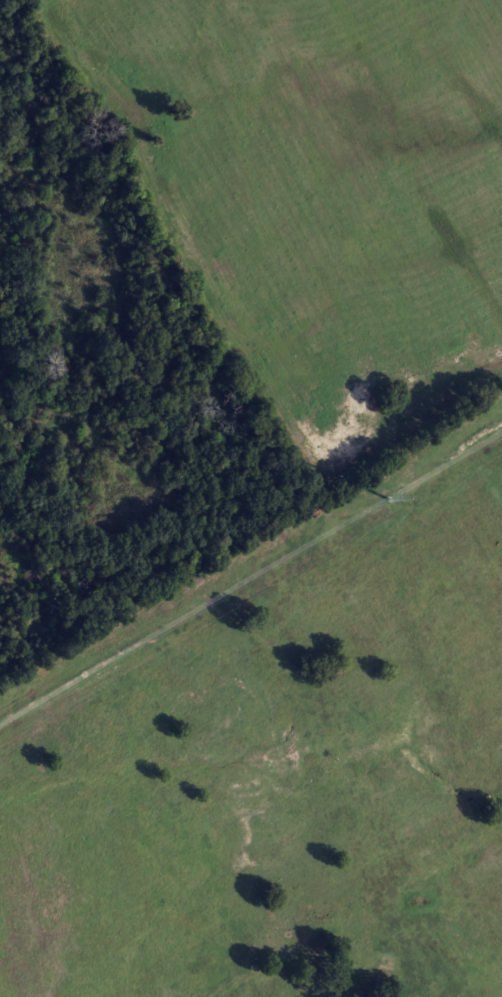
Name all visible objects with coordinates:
power tower: (389, 499)

